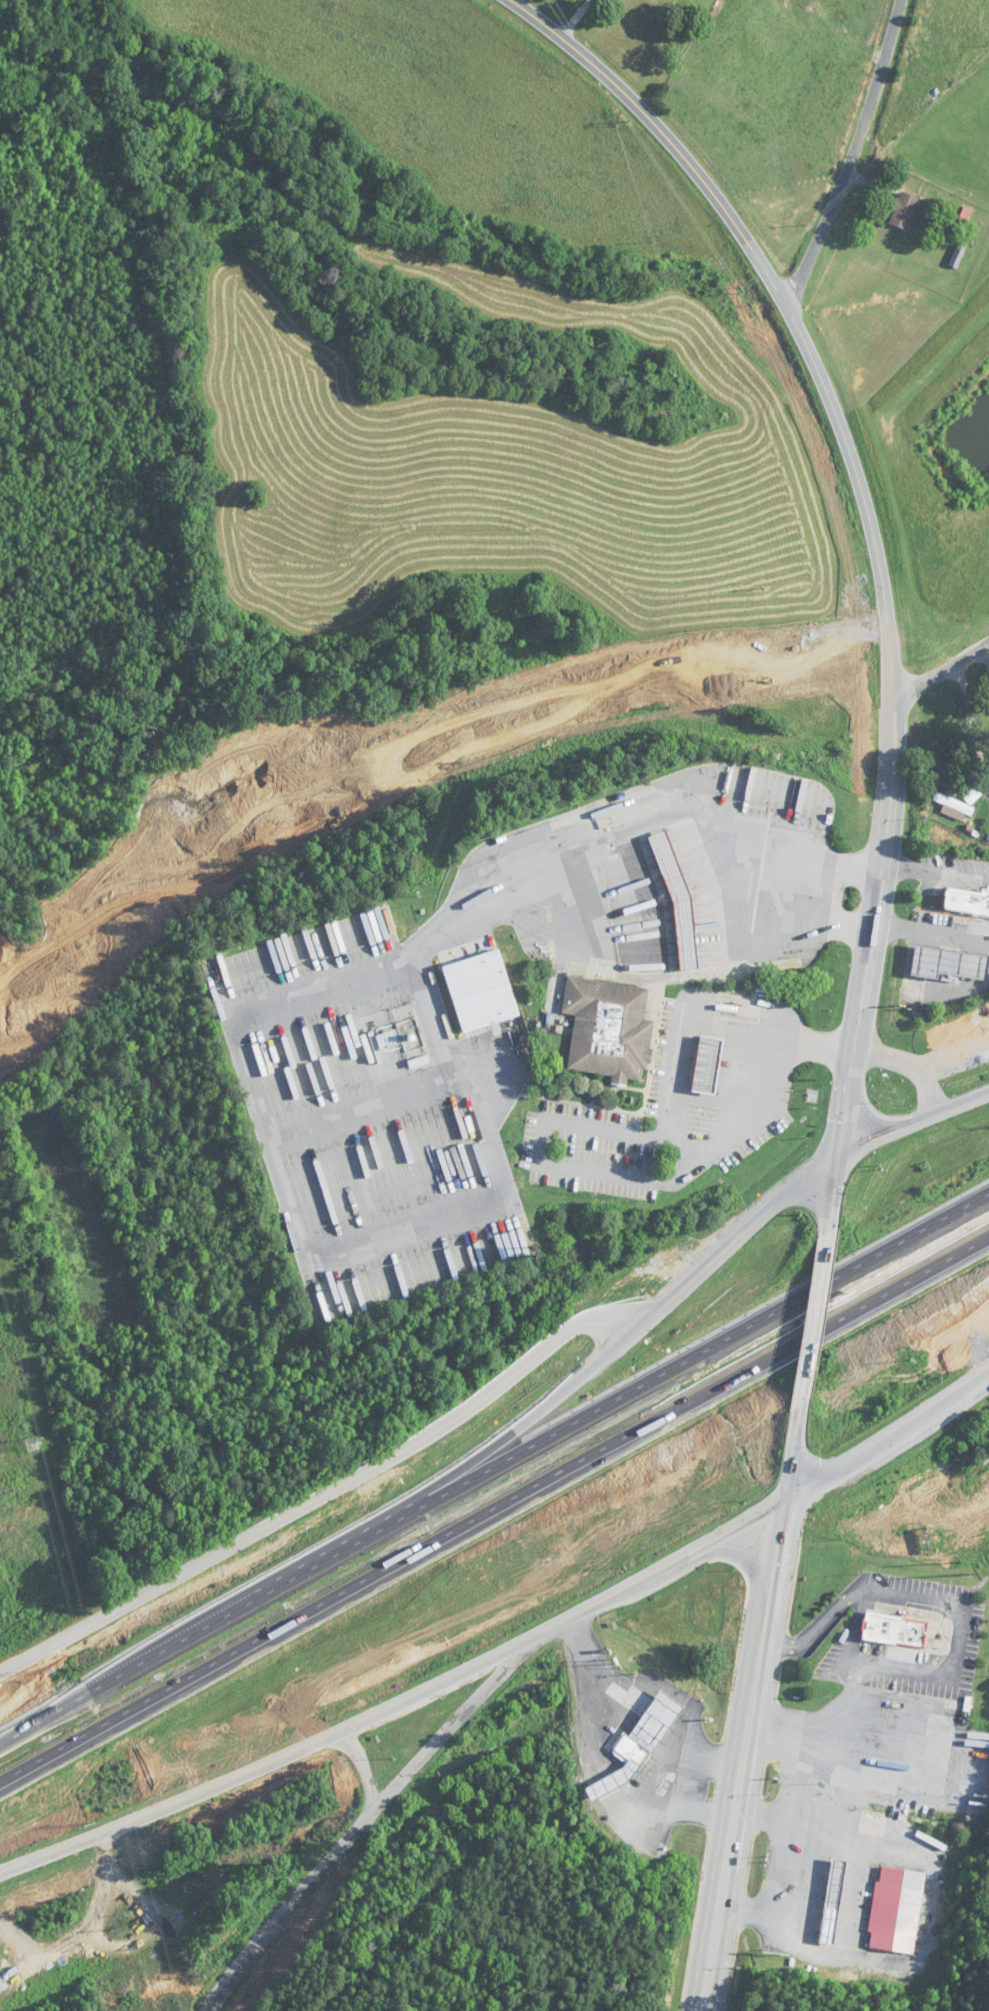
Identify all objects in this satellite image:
road: (850, 155)
building: (905, 211)
road: (773, 287)
road: (985, 657)
road: (937, 678)
road: (400, 758)
building: (954, 806)
road: (931, 871)
road: (872, 877)
building: (677, 898)
building: (966, 901)
road: (928, 930)
building: (949, 963)
road: (285, 998)
building: (606, 1028)
building: (952, 1031)
building: (706, 1065)
road: (920, 1073)
road: (847, 1153)
road: (631, 1172)
road: (830, 1314)
road: (582, 1368)
power tower: (32, 1444)
road: (808, 1453)
road: (494, 1464)
road: (495, 1512)
road: (888, 1528)
building: (895, 1631)
road: (851, 1645)
road: (672, 1693)
road: (393, 1710)
building: (637, 1745)
road: (743, 1750)
road: (801, 1776)
road: (678, 1808)
road: (785, 1866)
building: (832, 1902)
building: (895, 1910)

